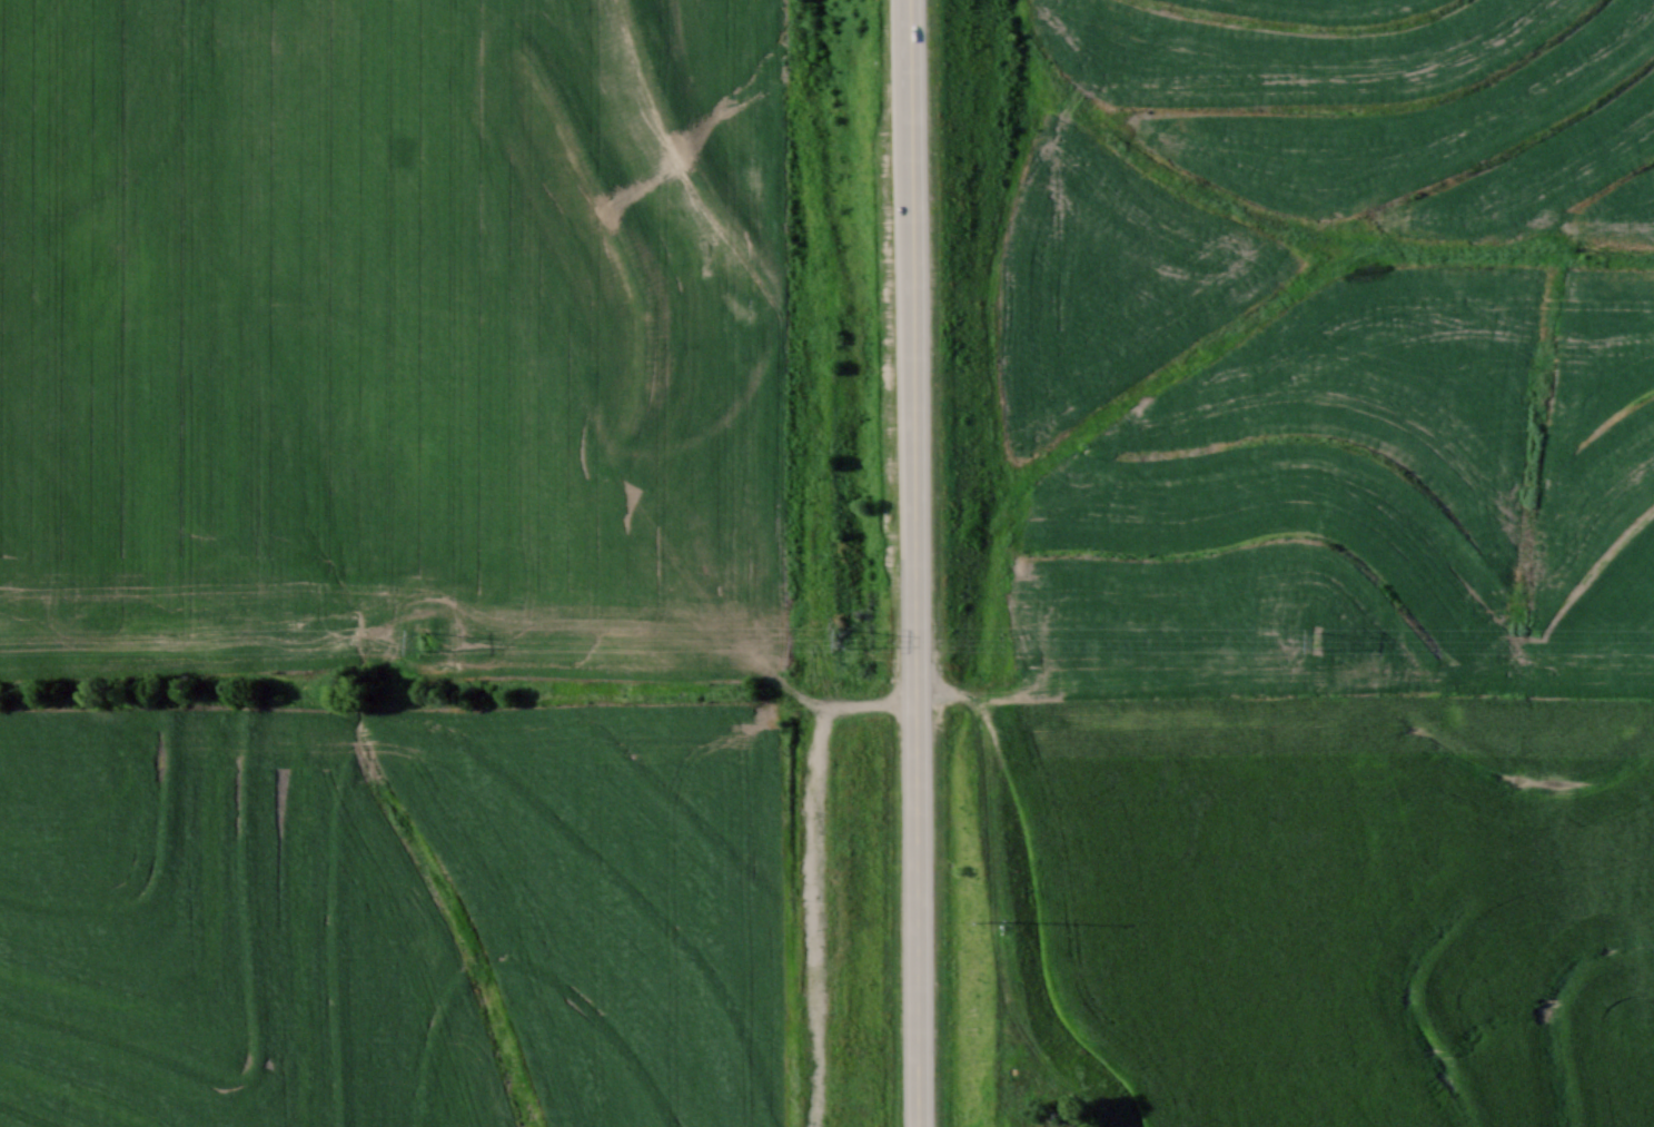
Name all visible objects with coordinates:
road: (914, 563)
power tower: (849, 636)
power tower: (417, 637)
power tower: (1326, 639)
road: (812, 868)

